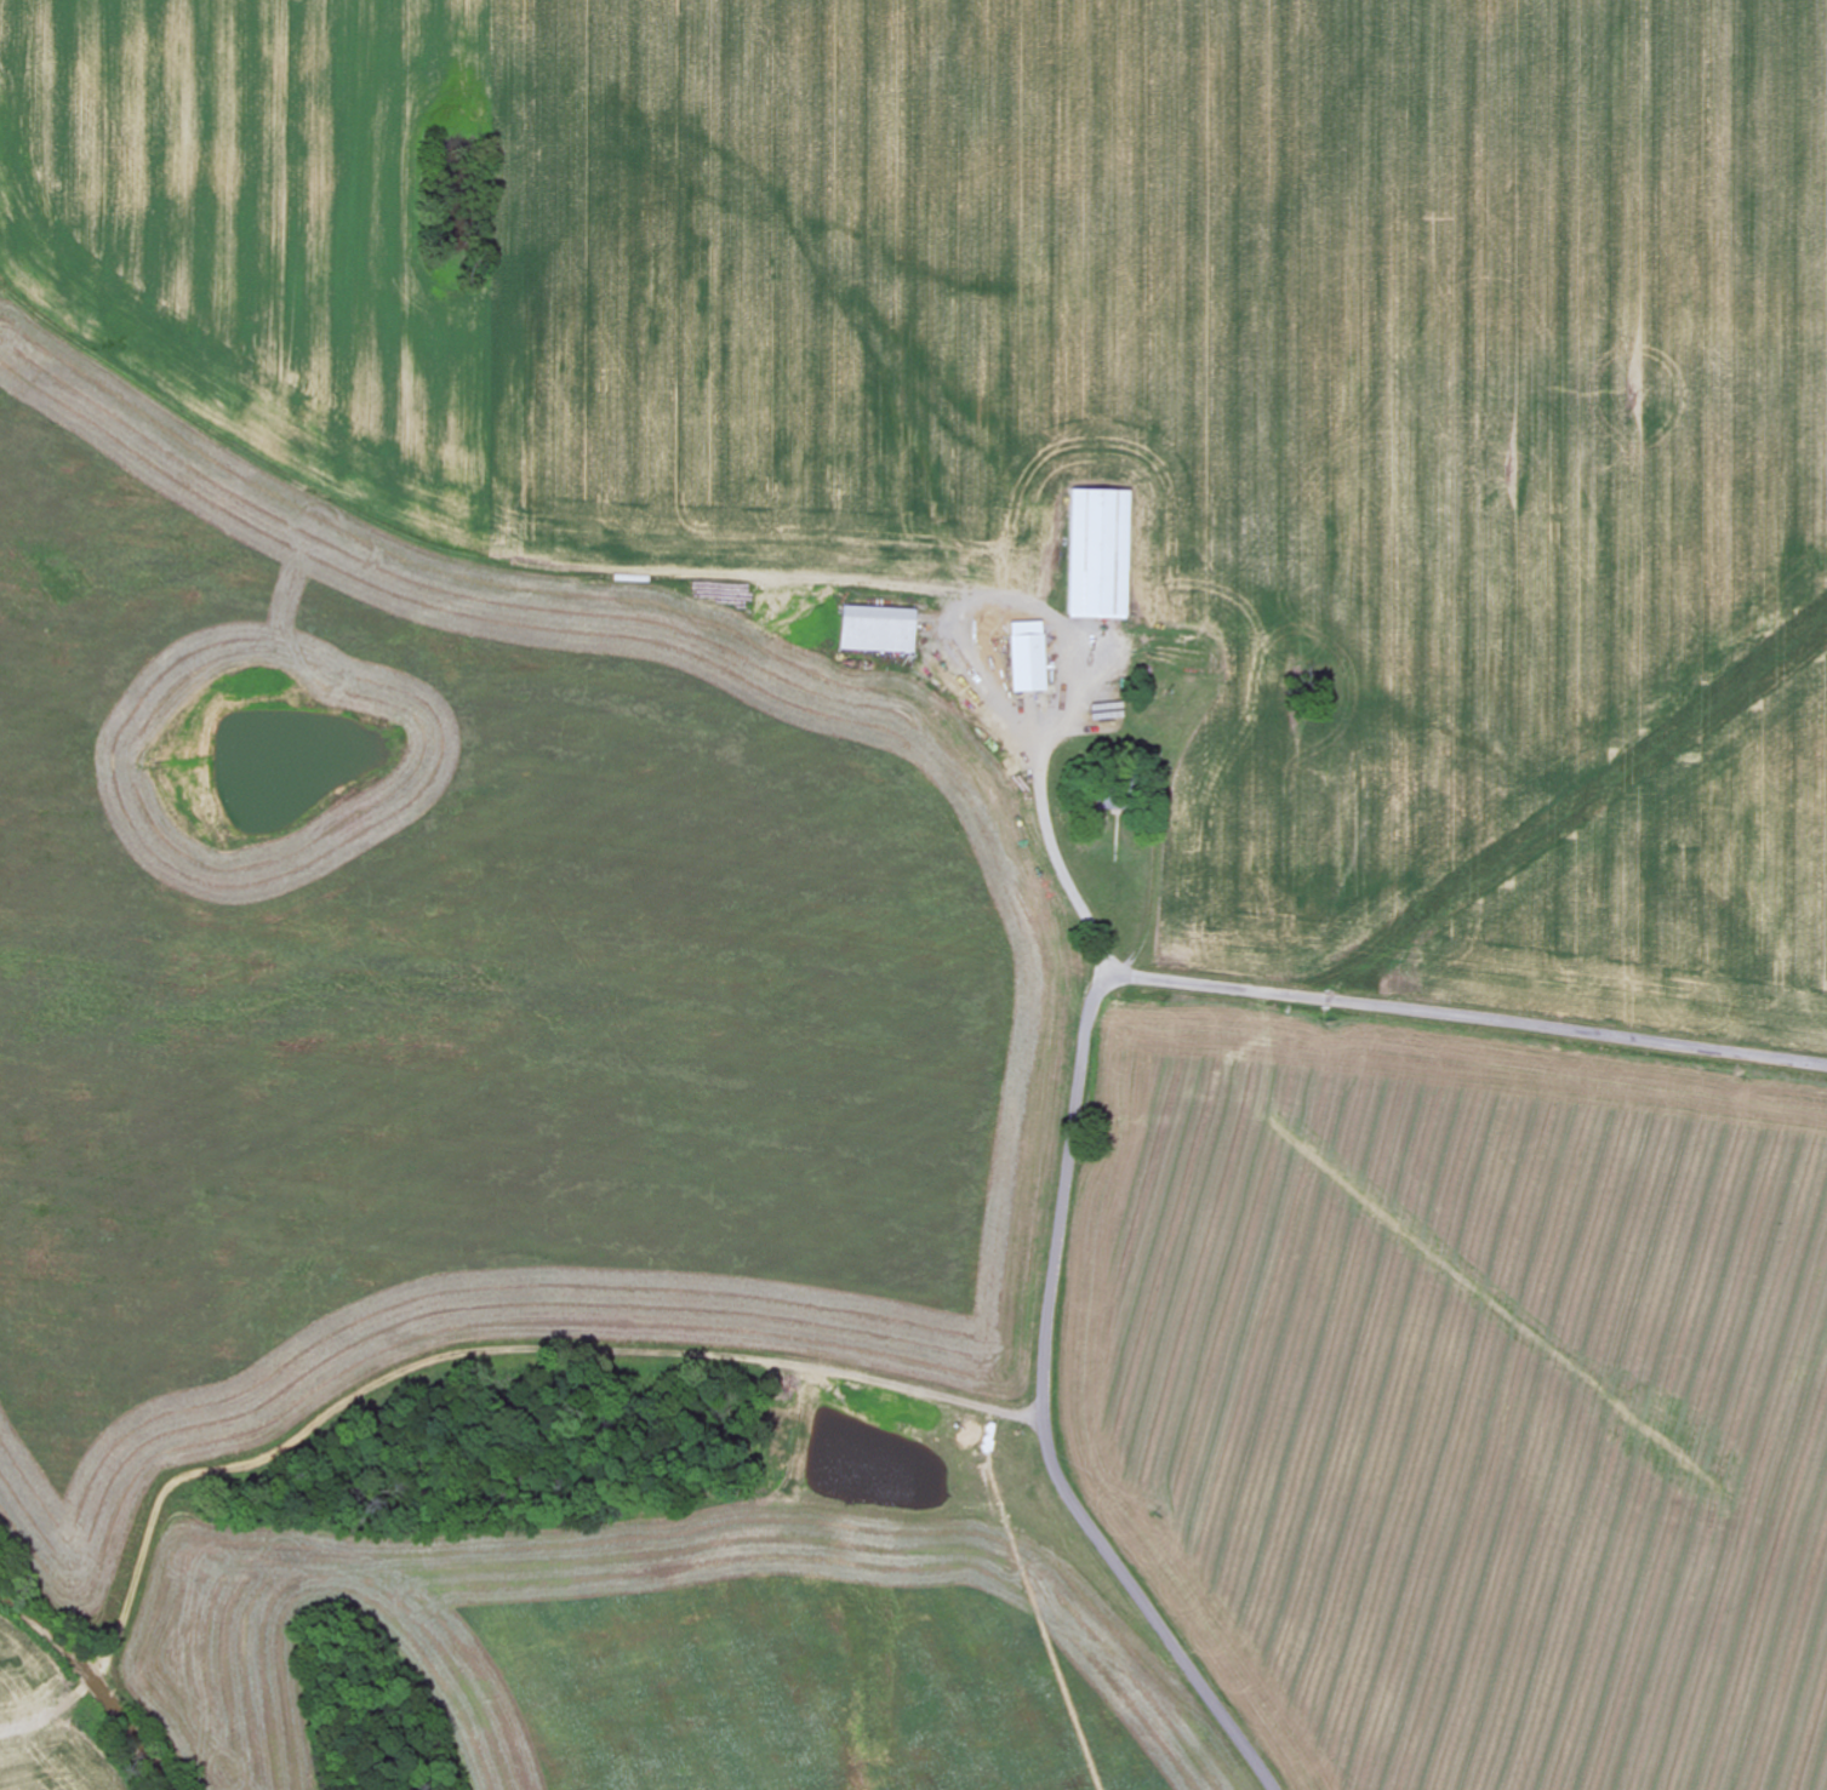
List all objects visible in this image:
building: (1096, 555)
building: (875, 630)
building: (1027, 664)
road: (1537, 1023)
road: (1046, 1343)
road: (560, 1512)

